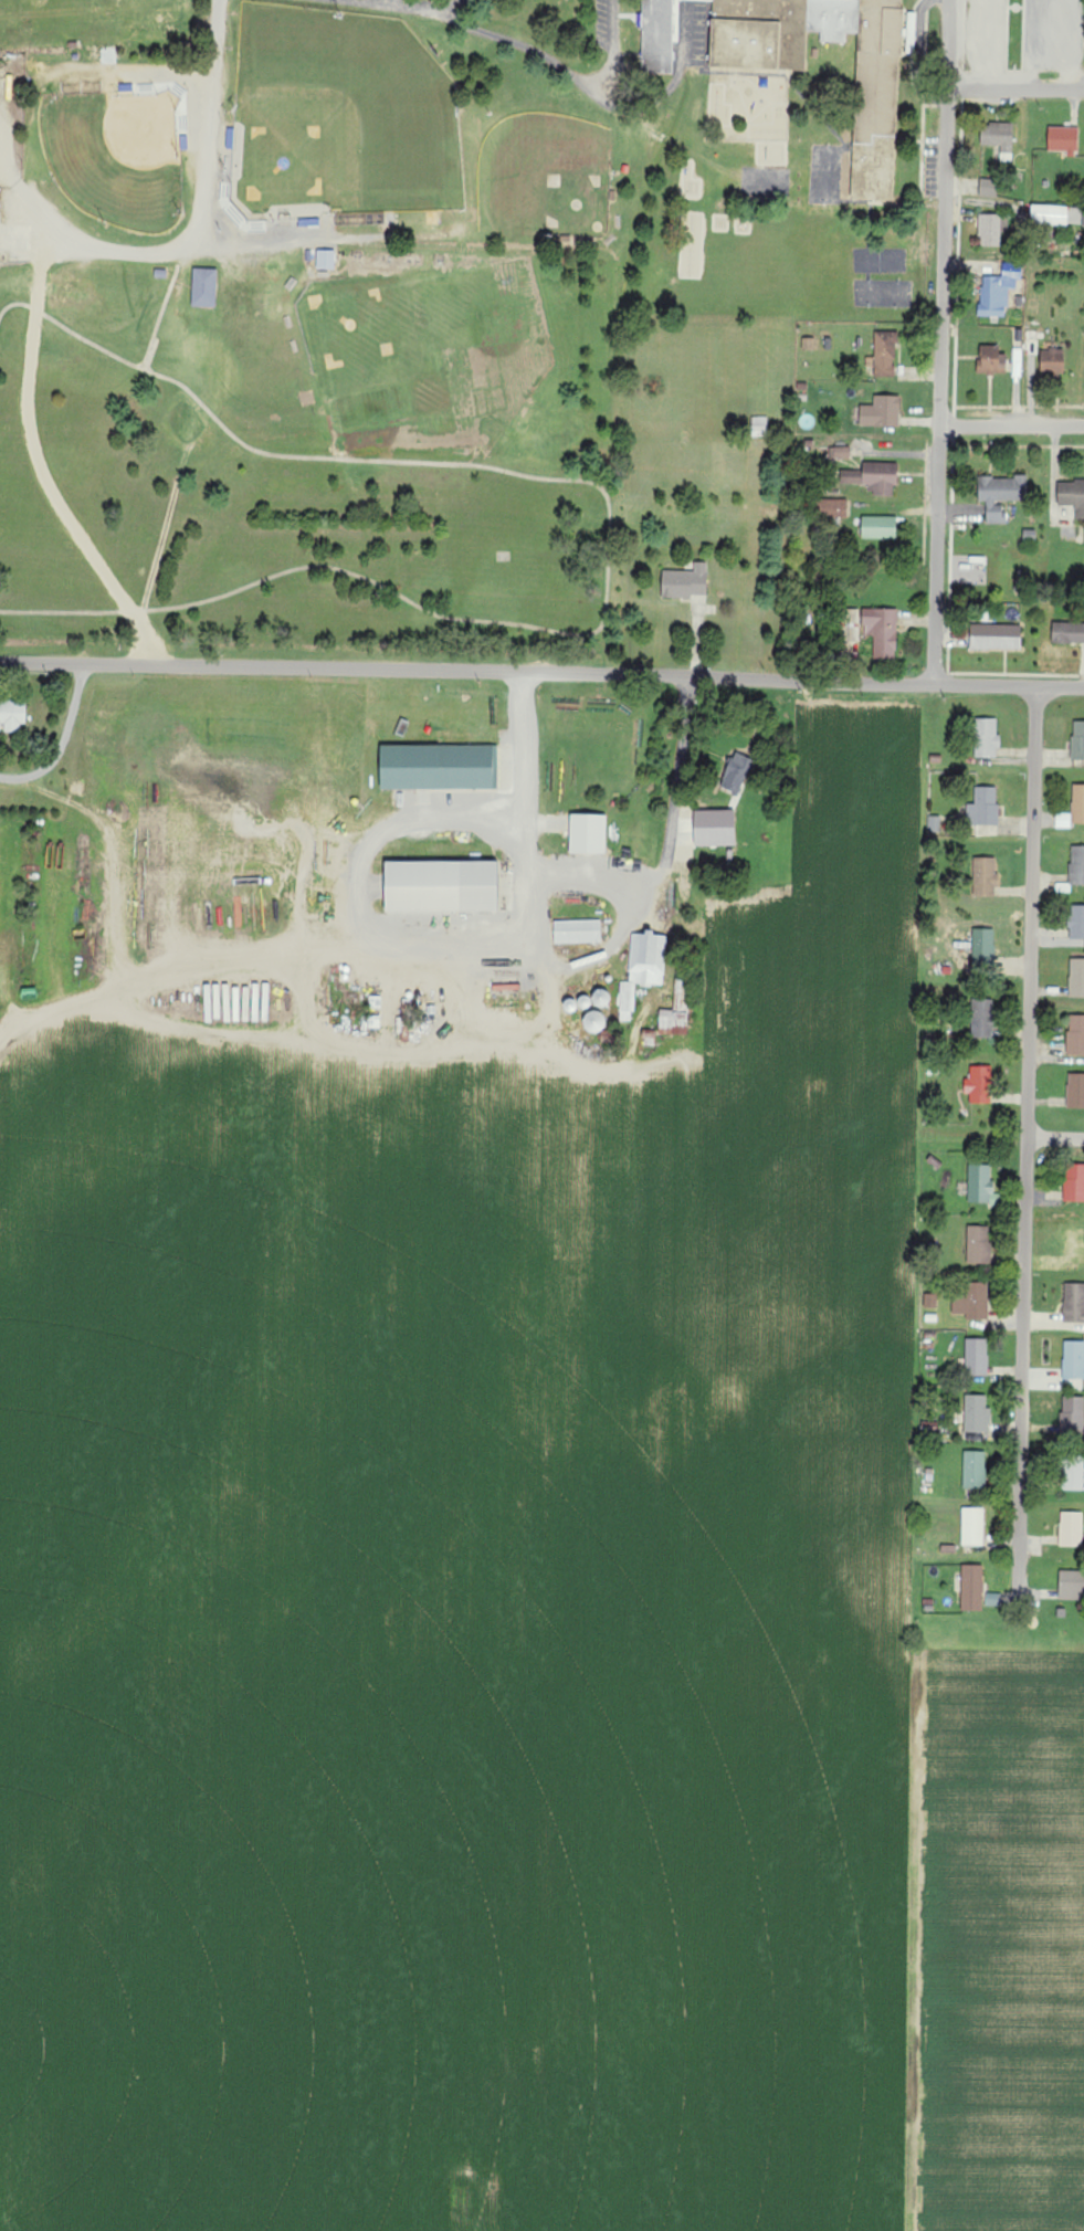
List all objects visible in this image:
road: (410, 2)
road: (422, 6)
building: (775, 31)
building: (656, 36)
road: (532, 50)
road: (1017, 87)
building: (877, 98)
building: (999, 138)
building: (1063, 140)
building: (988, 187)
building: (1056, 215)
building: (990, 231)
road: (196, 243)
building: (325, 260)
building: (204, 287)
building: (998, 291)
road: (943, 340)
building: (884, 355)
building: (991, 360)
building: (1052, 362)
building: (882, 412)
road: (1012, 424)
building: (840, 453)
building: (873, 477)
building: (1001, 495)
building: (1072, 496)
building: (832, 508)
building: (878, 527)
building: (686, 581)
building: (881, 630)
building: (1067, 632)
building: (996, 636)
road: (469, 669)
road: (1010, 685)
building: (12, 715)
building: (987, 737)
building: (1077, 740)
road: (62, 743)
building: (439, 766)
building: (737, 772)
road: (528, 774)
building: (1077, 803)
building: (983, 807)
building: (934, 824)
building: (715, 827)
building: (588, 833)
building: (1076, 864)
road: (620, 873)
building: (985, 876)
building: (442, 885)
building: (1076, 922)
building: (577, 930)
building: (983, 946)
building: (643, 968)
building: (1076, 978)
building: (676, 1011)
building: (981, 1019)
building: (596, 1020)
building: (1075, 1034)
building: (979, 1085)
building: (1075, 1091)
road: (1056, 1136)
road: (1028, 1141)
building: (1074, 1182)
building: (980, 1183)
building: (978, 1244)
building: (930, 1299)
building: (970, 1301)
building: (1073, 1303)
building: (977, 1357)
building: (1073, 1359)
building: (977, 1413)
building: (1072, 1416)
building: (975, 1472)
building: (1073, 1474)
building: (972, 1526)
building: (1071, 1528)
building: (1071, 1585)
building: (971, 1588)

